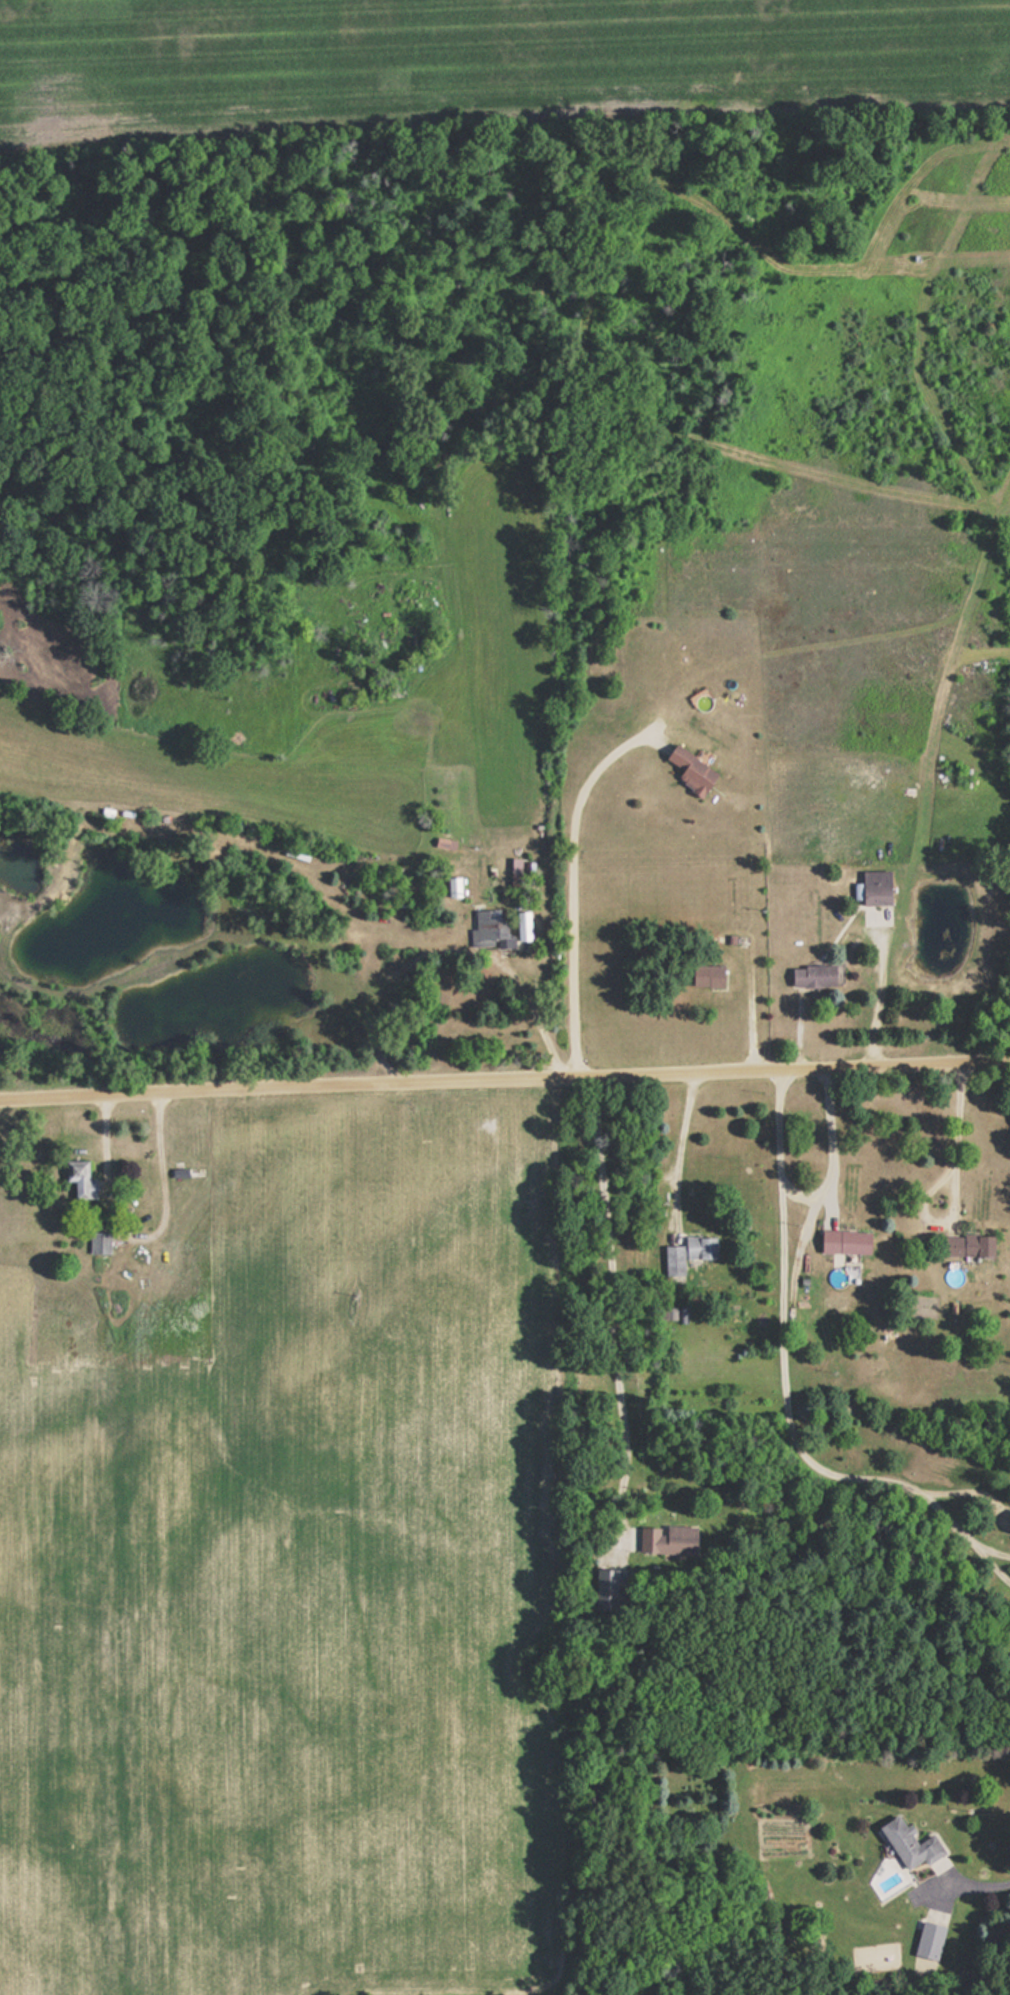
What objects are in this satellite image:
building: (690, 769)
building: (452, 886)
building: (875, 886)
building: (490, 925)
building: (706, 974)
building: (812, 974)
road: (504, 1073)
building: (79, 1178)
building: (844, 1241)
building: (99, 1242)
building: (967, 1245)
building: (687, 1252)
building: (1009, 1530)
building: (669, 1539)
building: (610, 1589)
building: (909, 1843)
road: (960, 1889)
building: (929, 1940)

